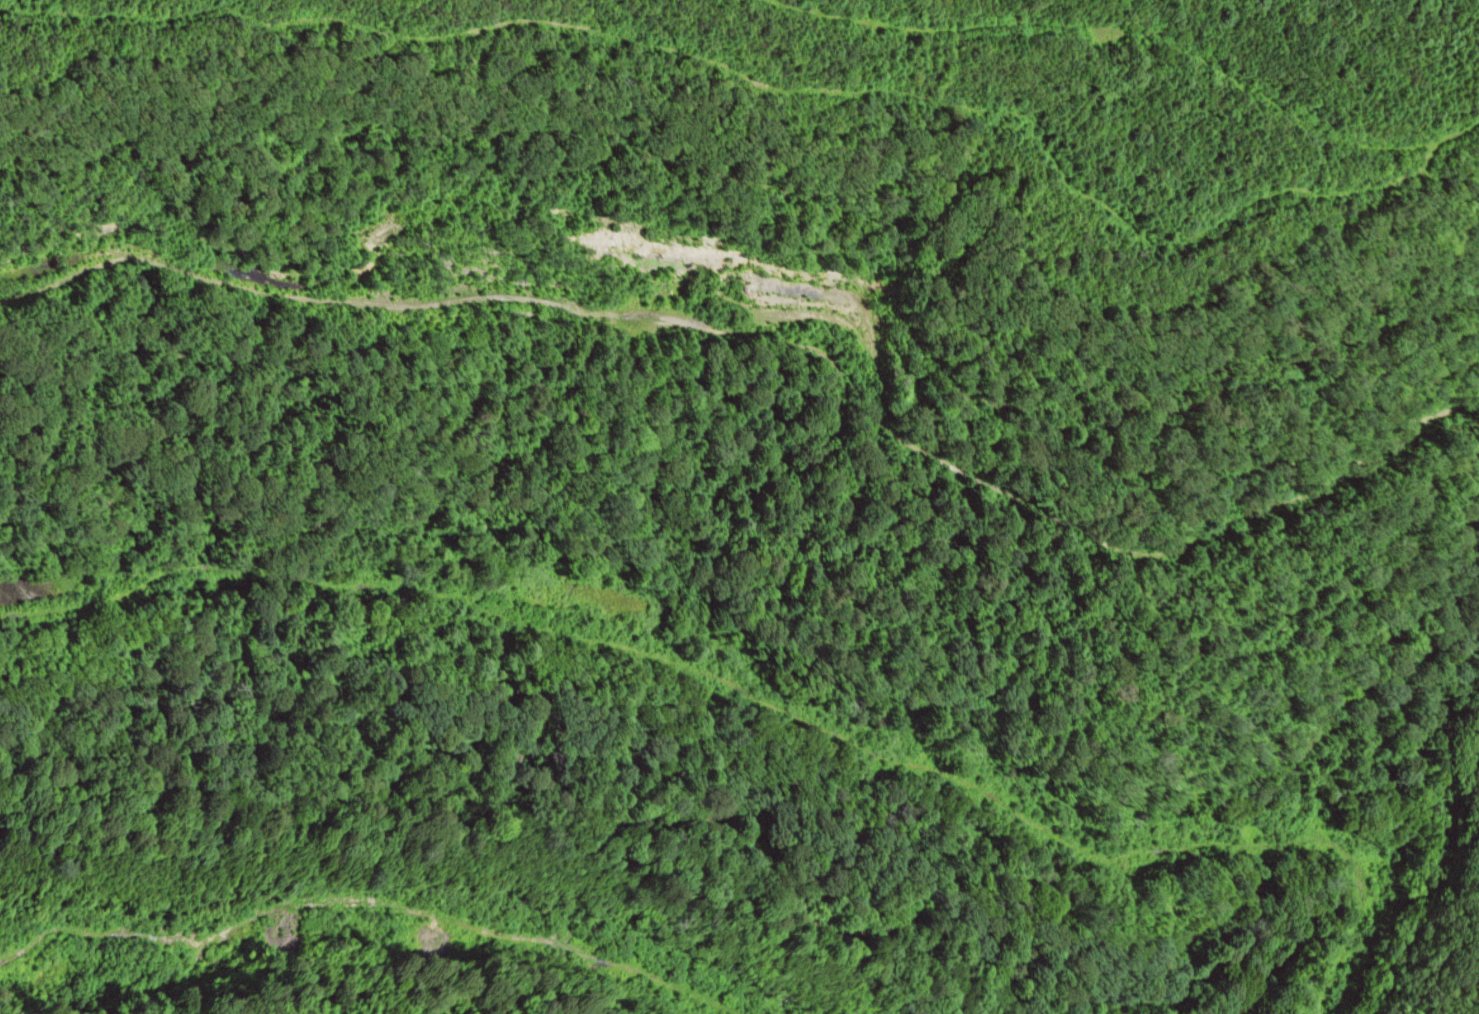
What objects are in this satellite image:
road: (799, 328)
road: (371, 917)

